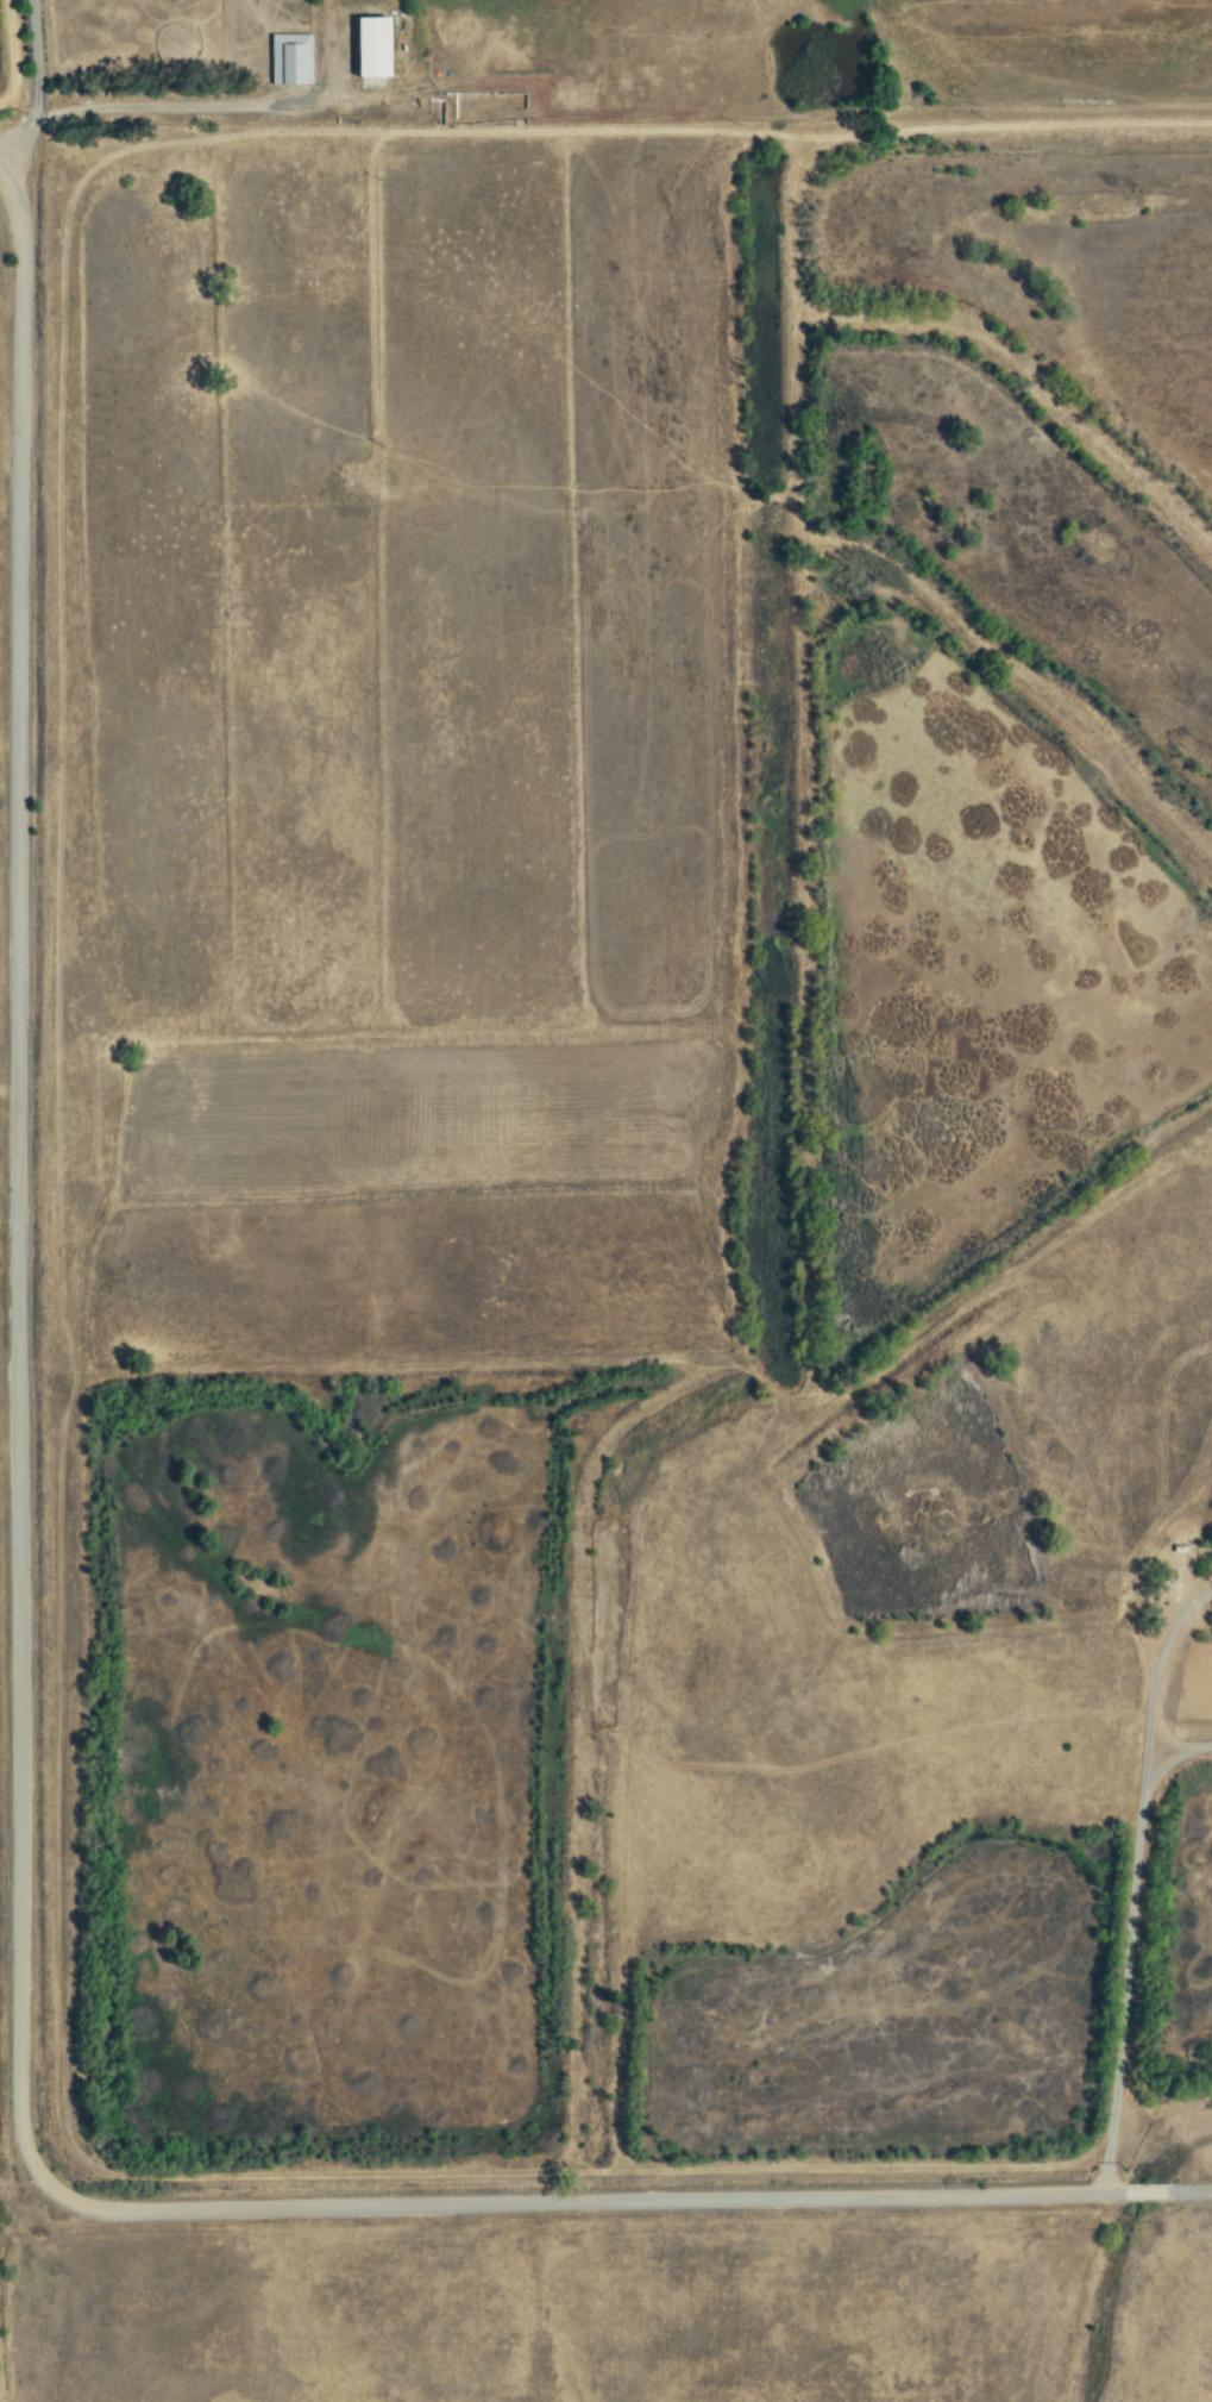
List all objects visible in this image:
building: (371, 49)
road: (33, 61)
building: (289, 61)
road: (169, 107)
road: (23, 1770)
road: (1132, 1881)

